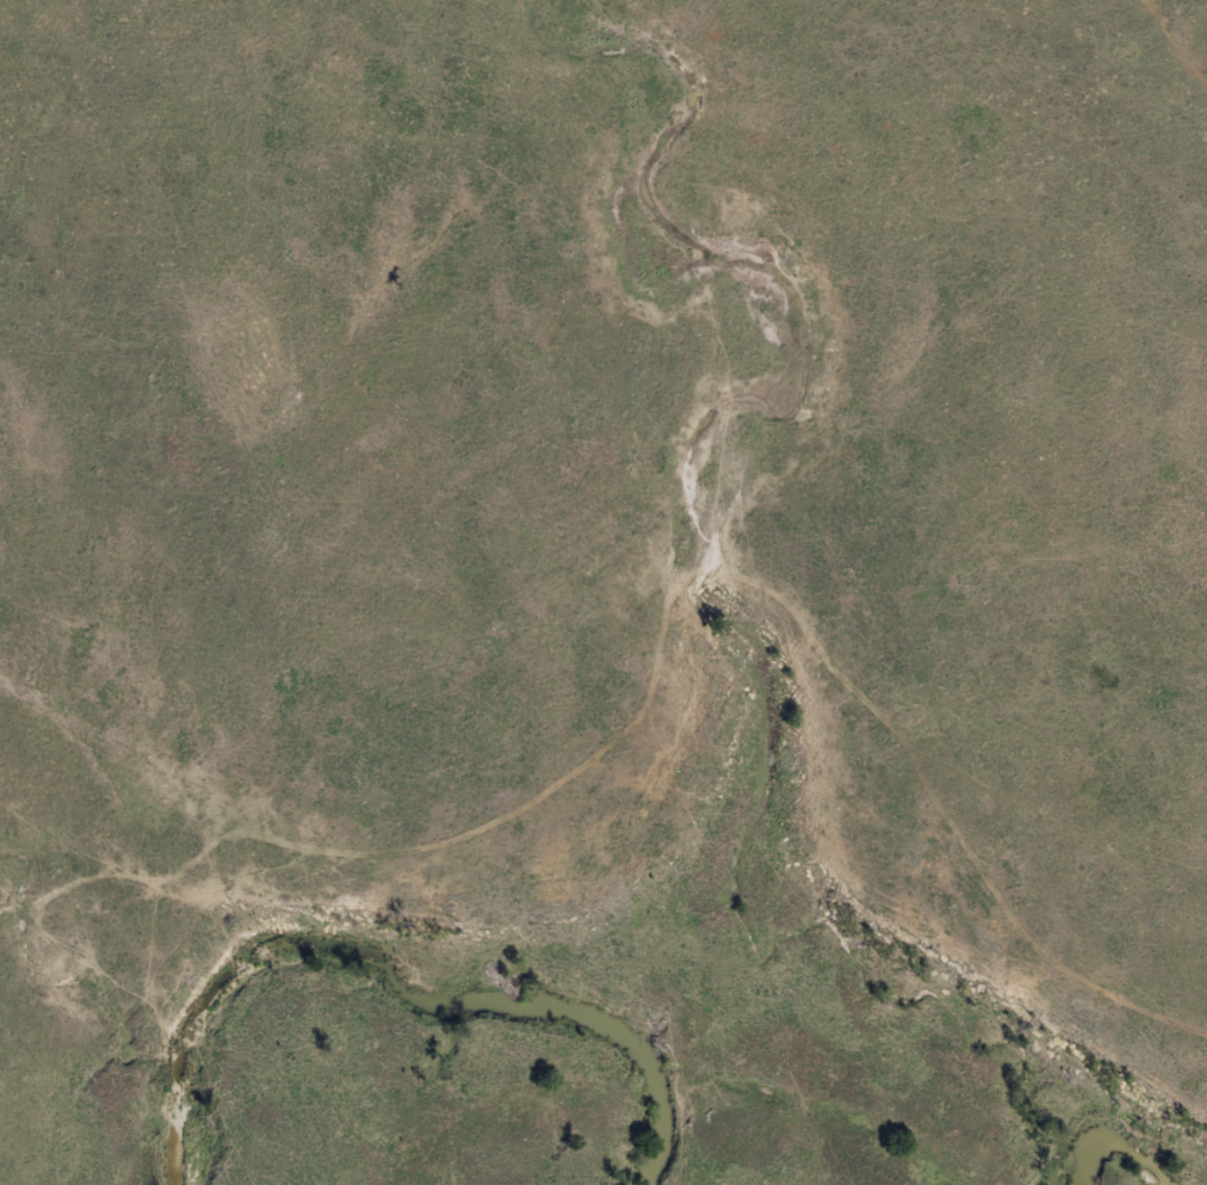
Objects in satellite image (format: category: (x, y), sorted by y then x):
road: (1163, 61)

